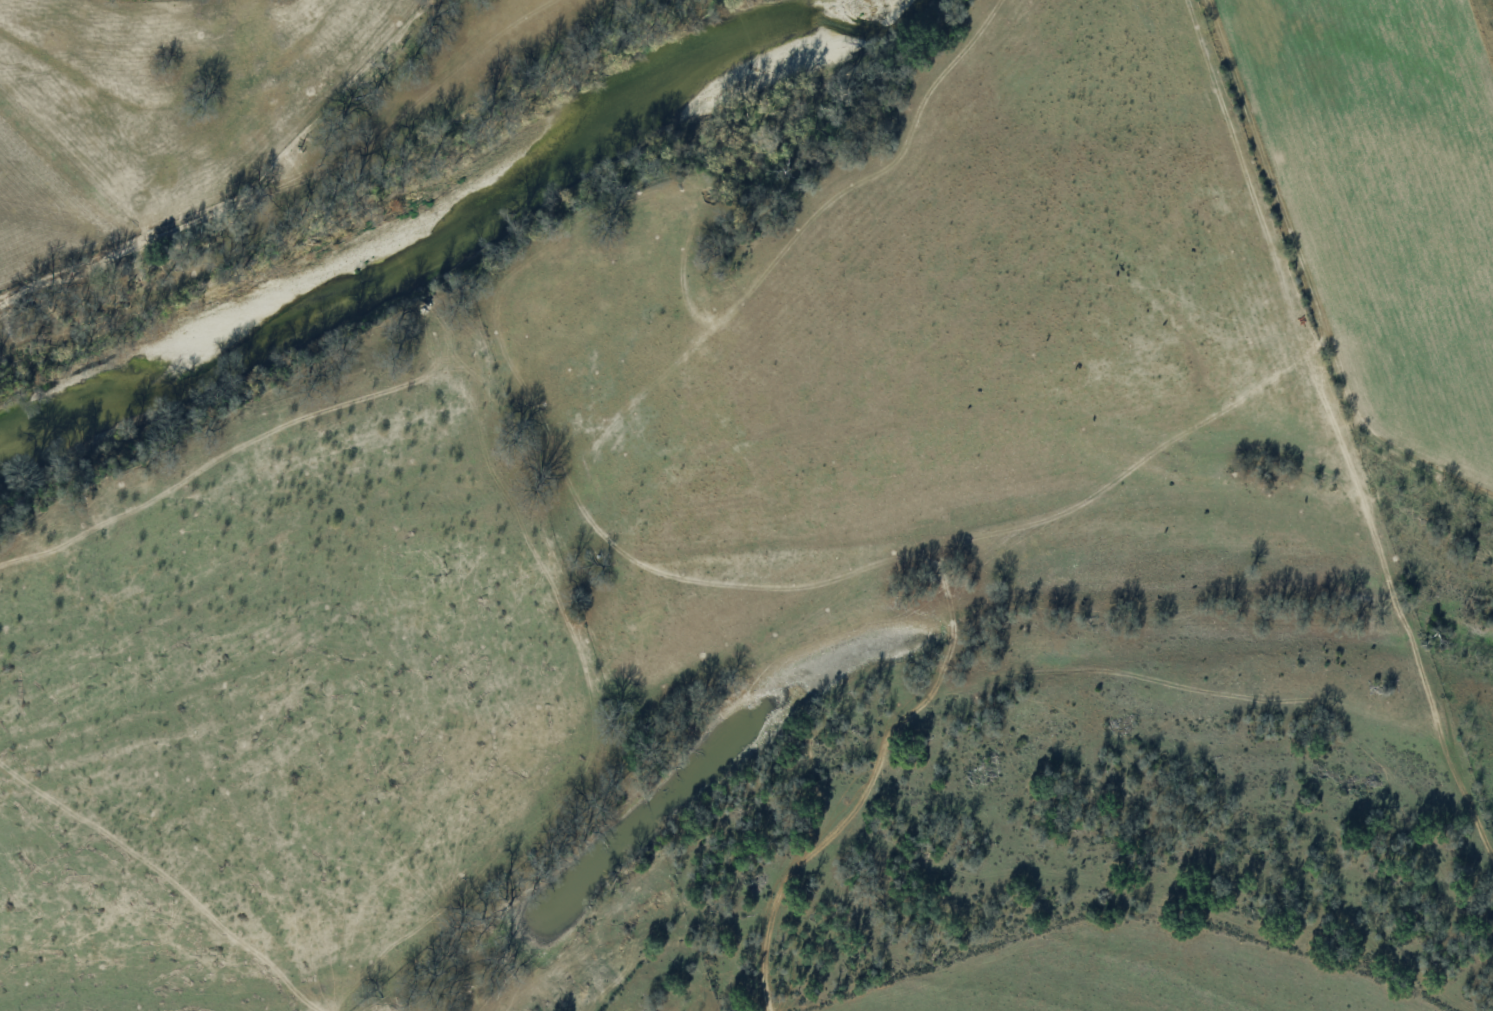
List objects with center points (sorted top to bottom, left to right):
river: (460, 196)

